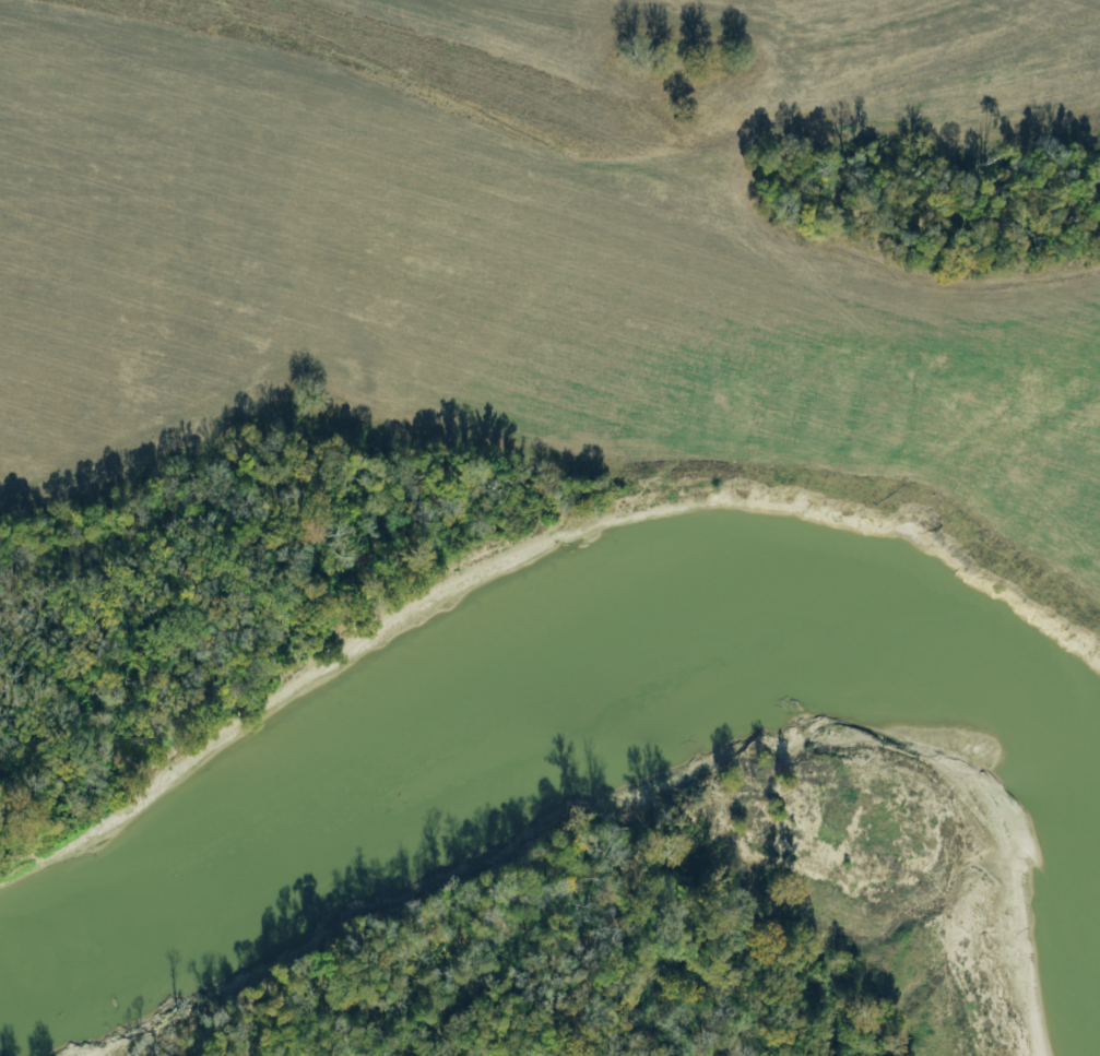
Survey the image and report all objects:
river: (647, 607)

